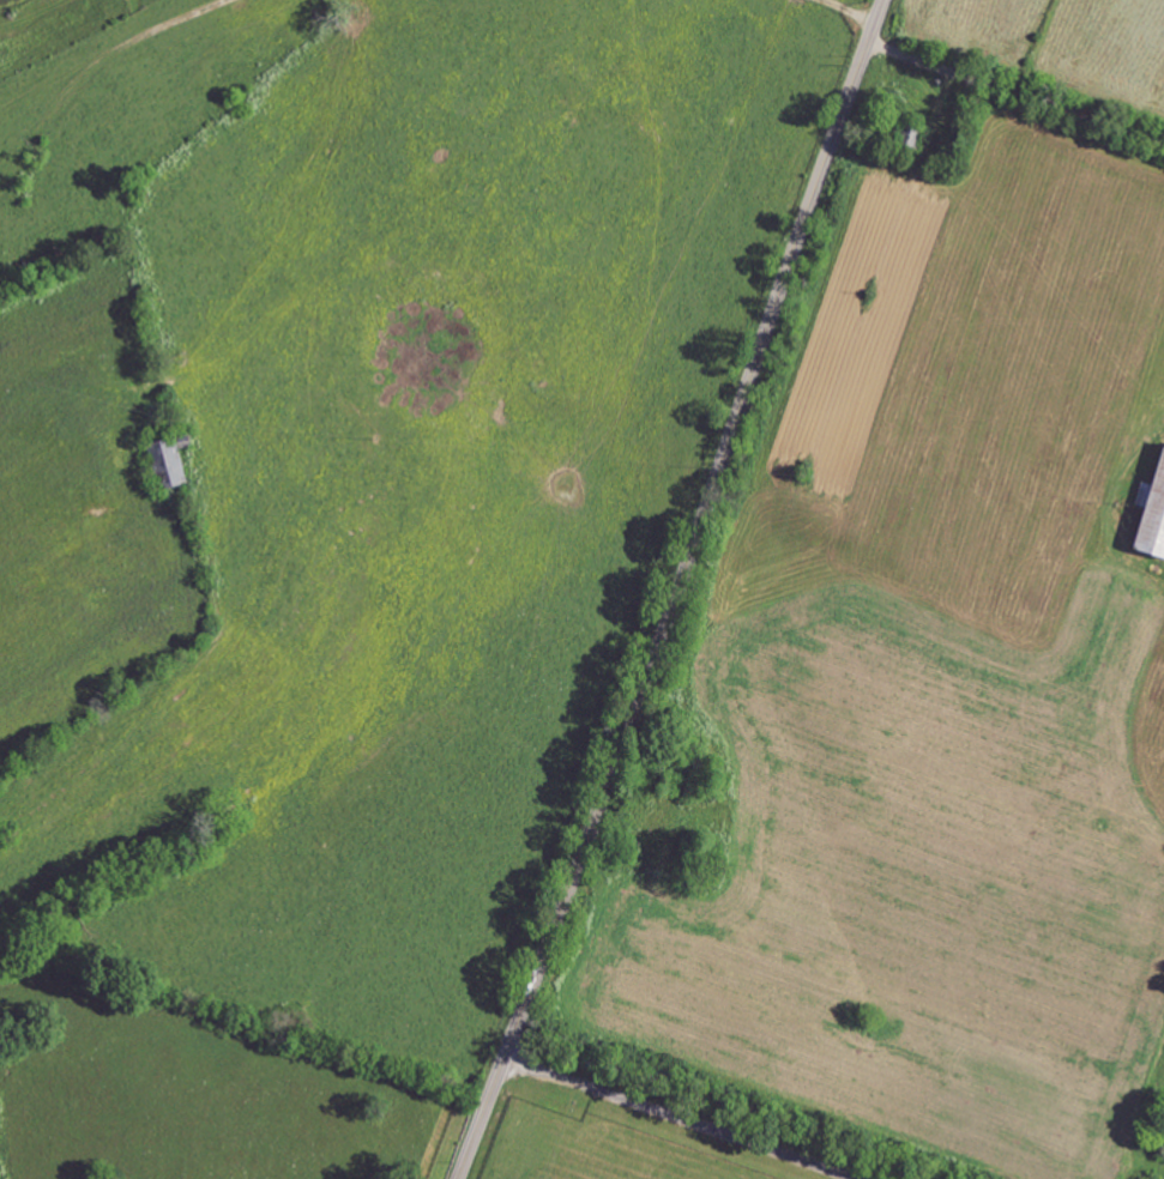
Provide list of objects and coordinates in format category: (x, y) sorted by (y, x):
road: (1015, 91)
building: (177, 466)
building: (1150, 513)
road: (679, 592)
road: (681, 1118)

